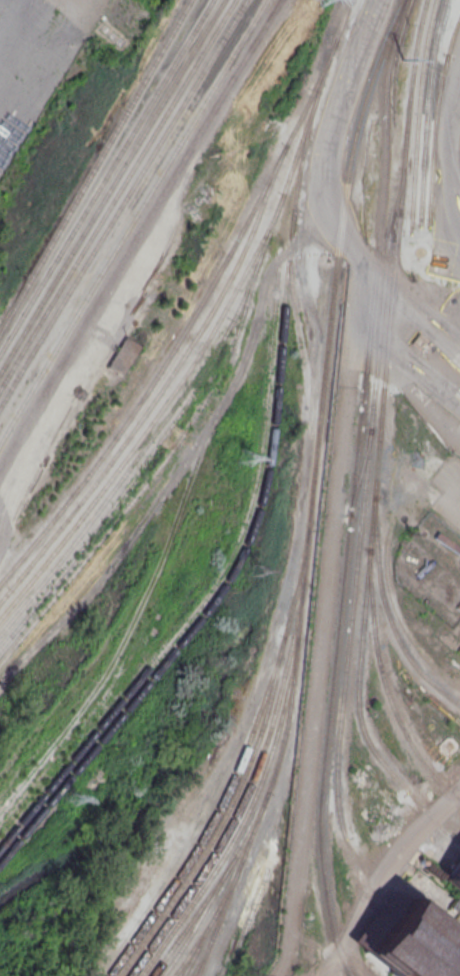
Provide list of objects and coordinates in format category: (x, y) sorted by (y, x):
power tower: (402, 60)
railway: (371, 84)
road: (338, 107)
railway: (427, 110)
railway: (417, 112)
railway: (436, 116)
railway: (445, 116)
railway: (96, 167)
railway: (106, 178)
railway: (112, 187)
railway: (117, 195)
railway: (123, 203)
road: (448, 214)
railway: (133, 221)
road: (345, 237)
road: (378, 273)
road: (369, 298)
road: (356, 317)
railway: (188, 325)
road: (429, 329)
building: (123, 357)
road: (427, 364)
railway: (365, 383)
railway: (164, 386)
railway: (202, 402)
railway: (156, 416)
railway: (380, 436)
power tower: (245, 457)
railway: (145, 461)
railway: (268, 471)
railway: (120, 480)
railway: (359, 534)
power tower: (252, 571)
railway: (303, 581)
railway: (213, 586)
railway: (387, 611)
road: (317, 682)
railway: (386, 697)
railway: (237, 766)
railway: (245, 795)
power tower: (72, 799)
railway: (225, 818)
railway: (244, 818)
railway: (323, 873)
railway: (216, 884)
building: (453, 884)
railway: (200, 917)
railway: (213, 918)
railway: (196, 942)
building: (413, 945)
railway: (205, 952)
power tower: (245, 956)

